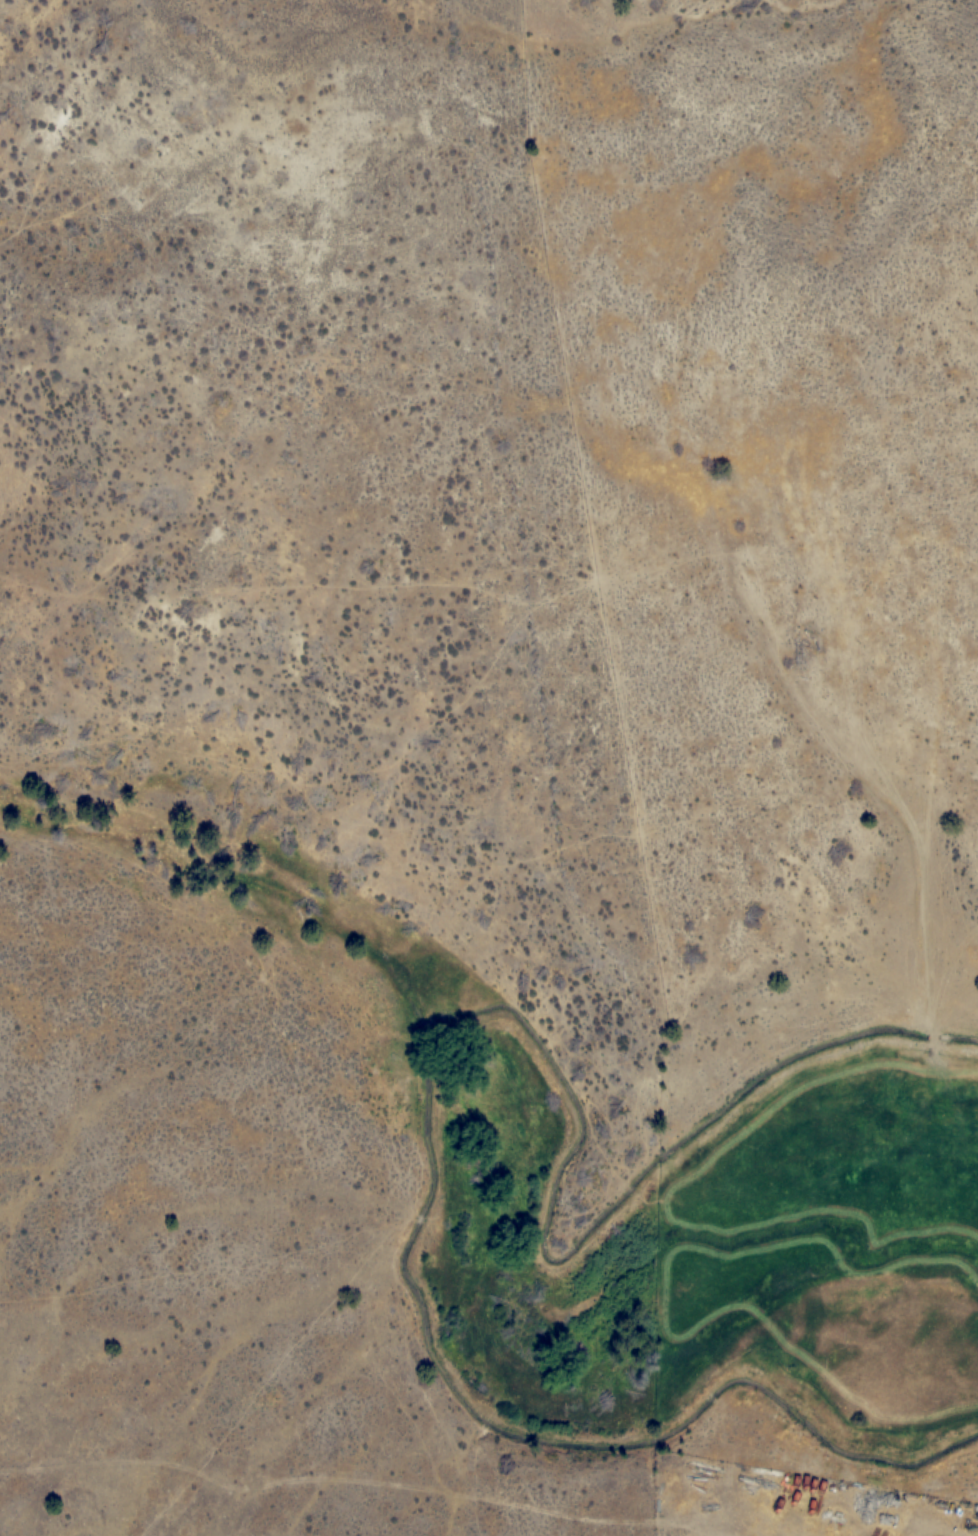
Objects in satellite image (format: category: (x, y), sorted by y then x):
road: (630, 1525)

